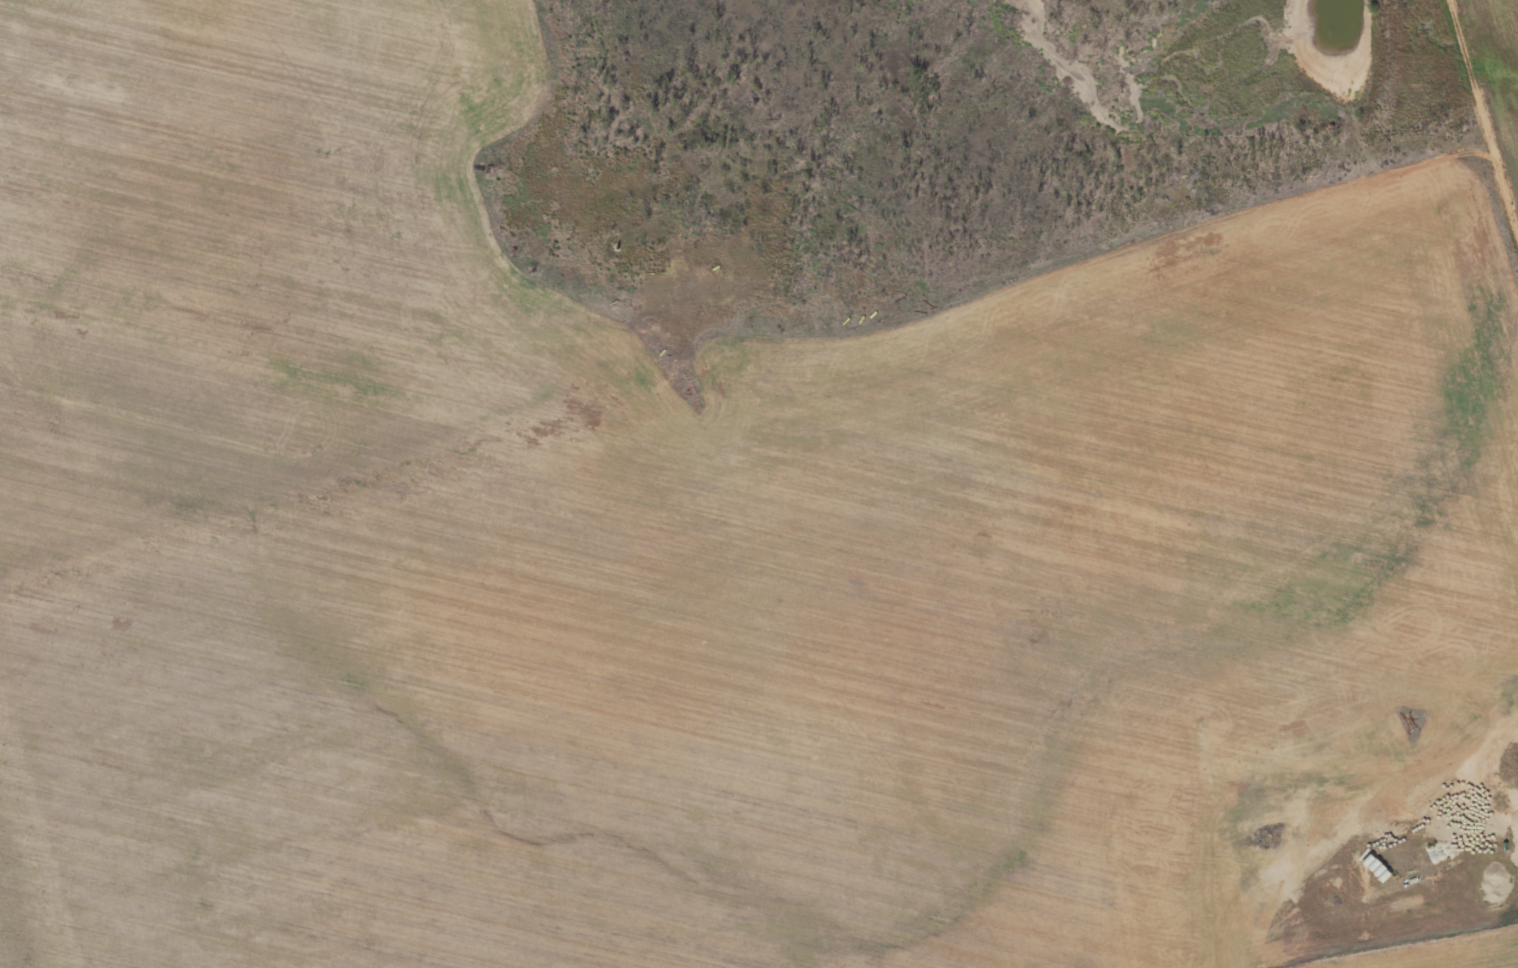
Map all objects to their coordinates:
road: (1508, 181)

